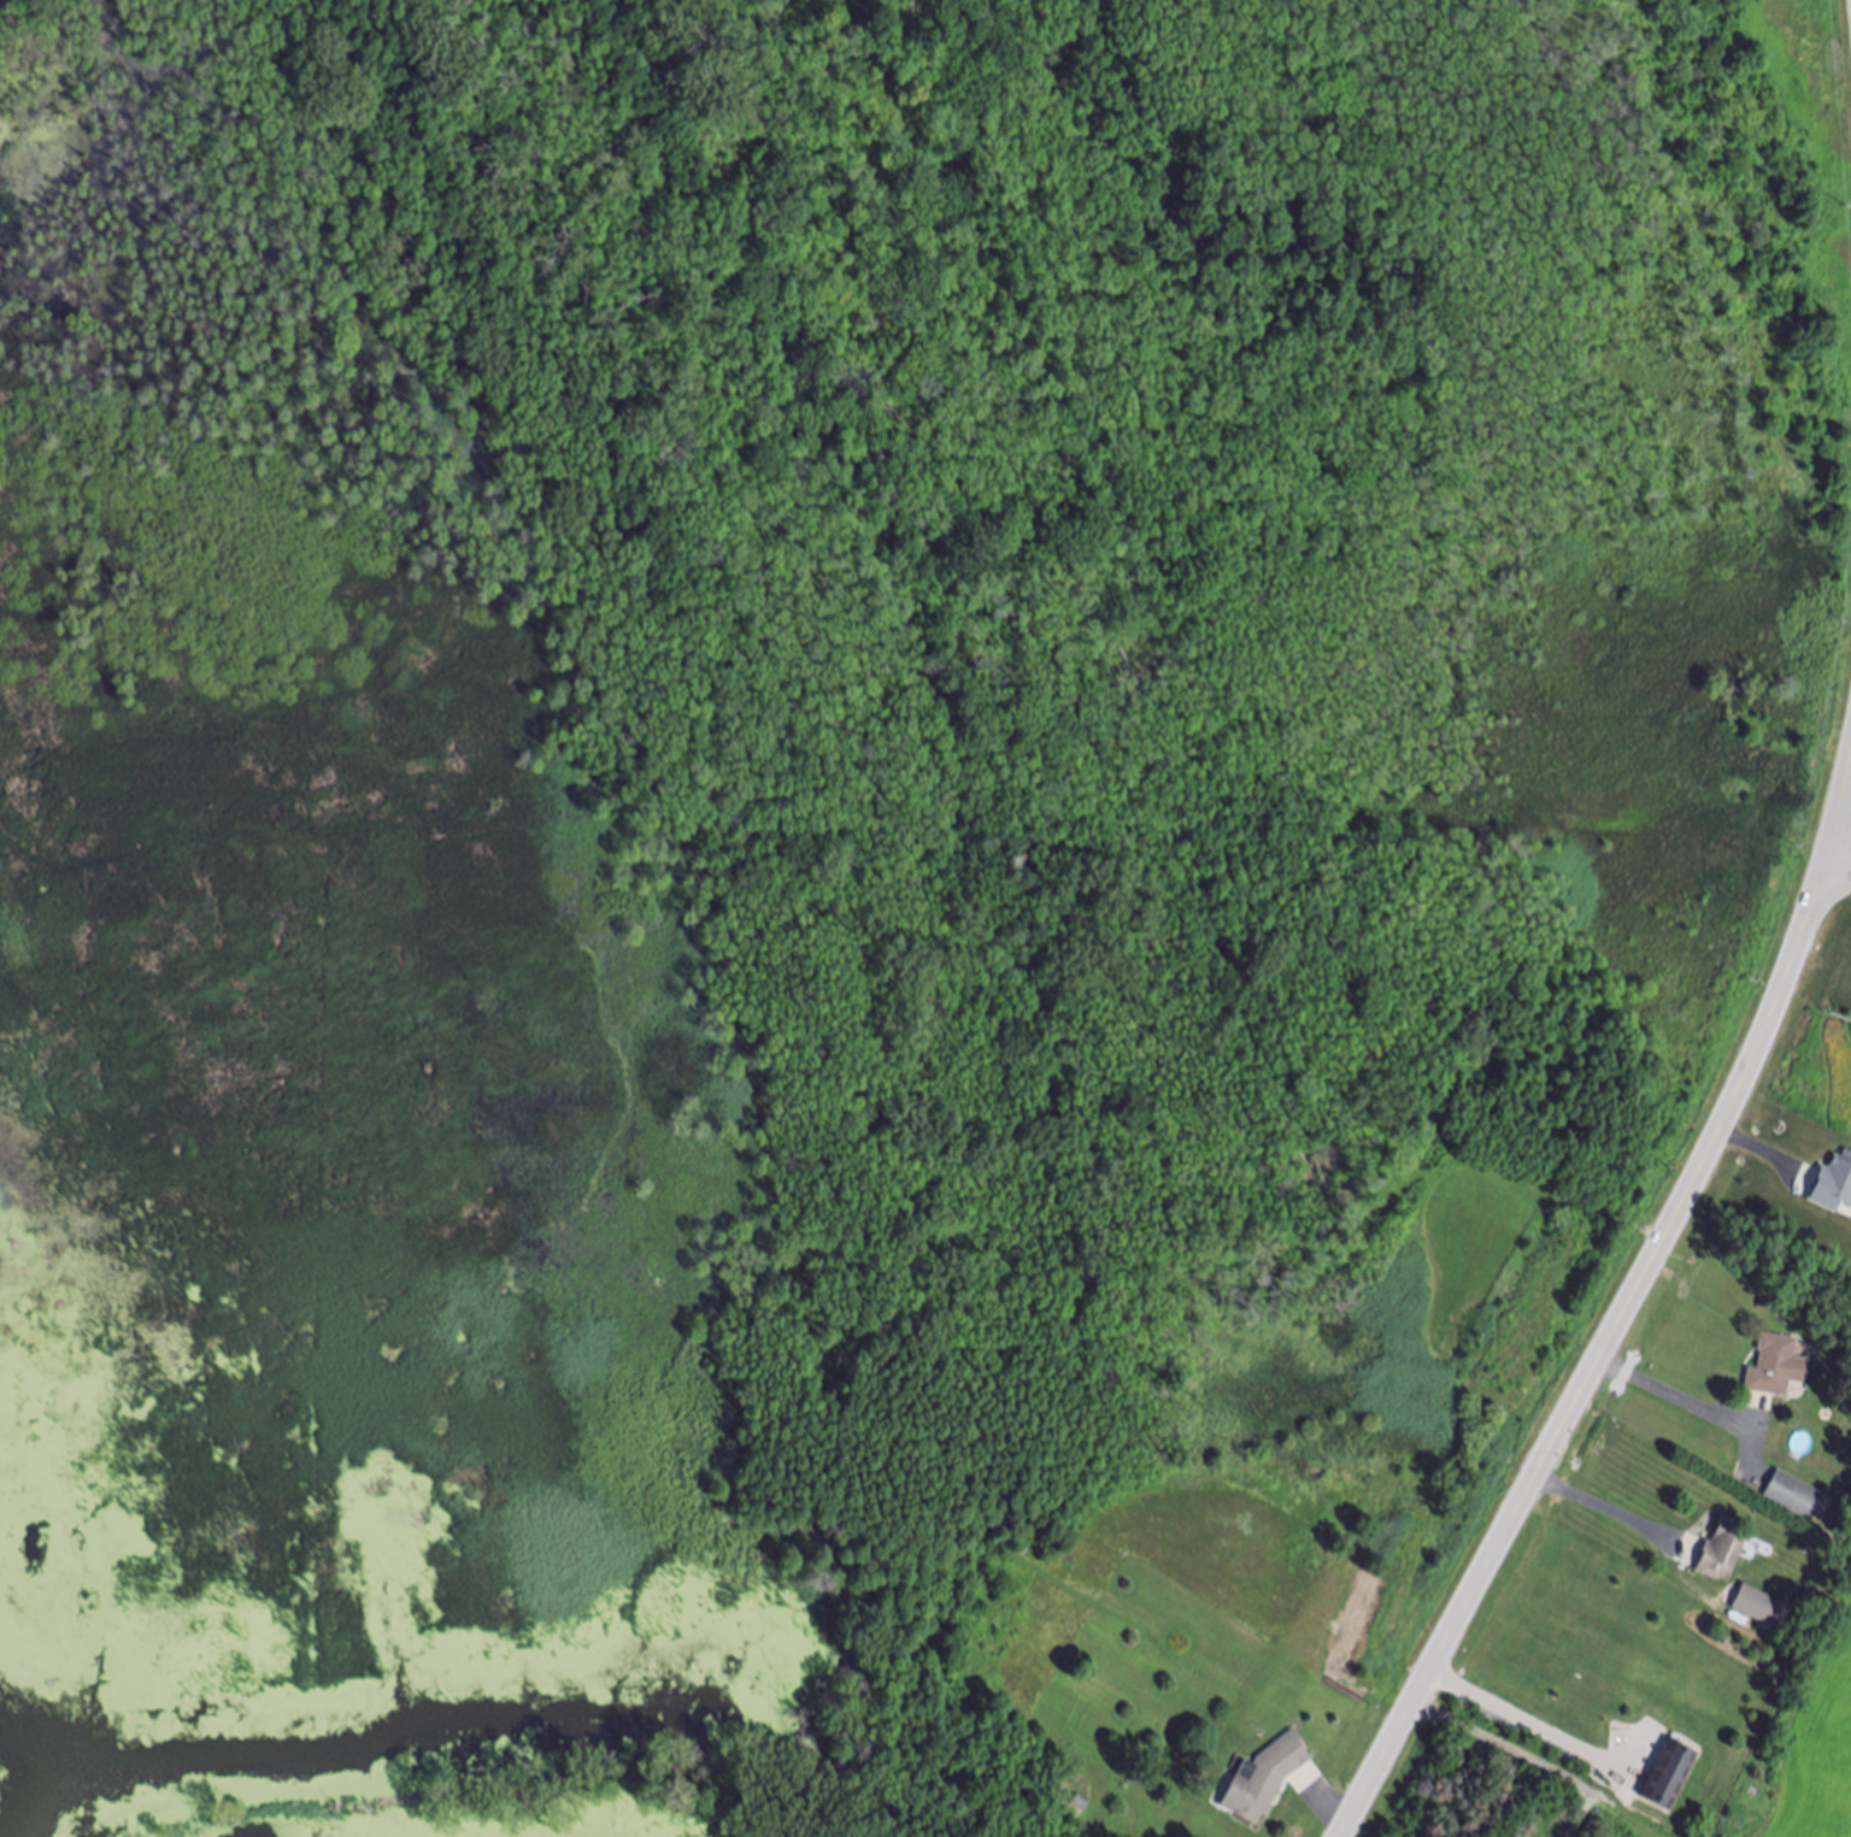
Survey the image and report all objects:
road: (1839, 864)
building: (1833, 1184)
road: (1624, 1315)
building: (1775, 1368)
road: (1676, 1396)
building: (1794, 1496)
road: (1600, 1511)
building: (1721, 1553)
building: (1756, 1606)
road: (1526, 1717)
road: (1506, 1751)
building: (1669, 1777)
building: (1265, 1780)
park: (1464, 1797)
building: (1081, 1804)

